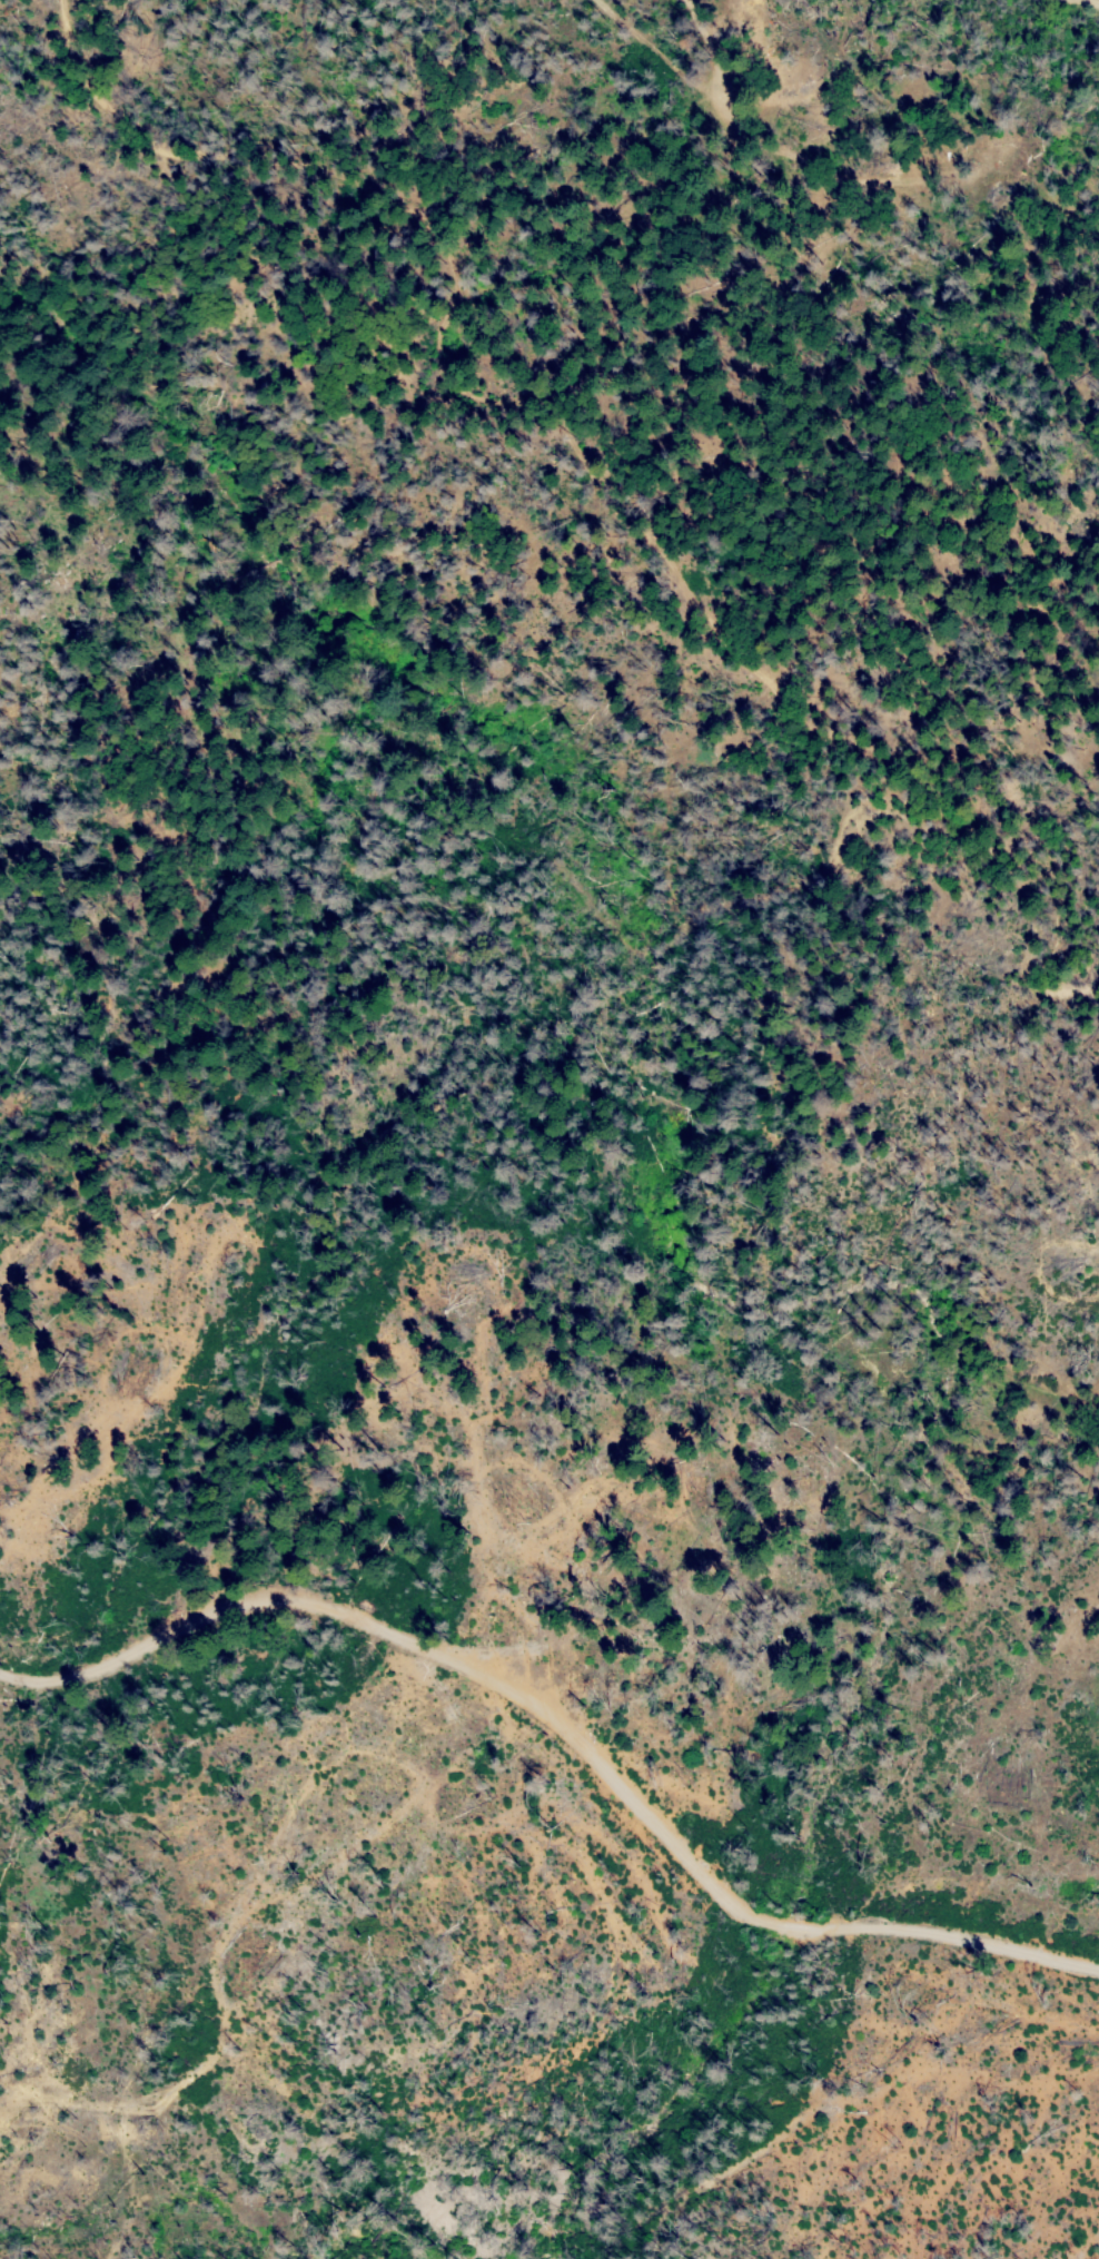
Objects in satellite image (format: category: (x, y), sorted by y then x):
road: (919, 1)
road: (187, 45)
road: (404, 126)
road: (544, 503)
road: (565, 1725)

